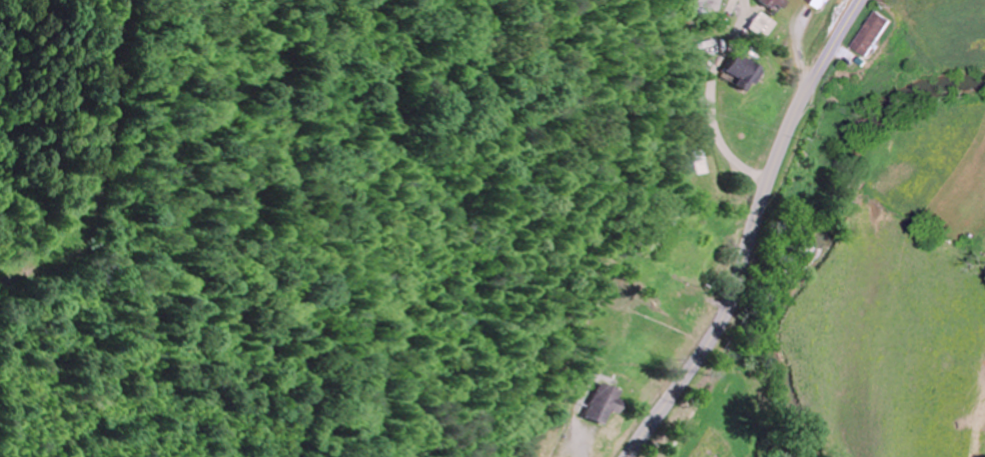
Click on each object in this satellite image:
building: (817, 3)
building: (759, 26)
building: (871, 35)
road: (750, 231)

